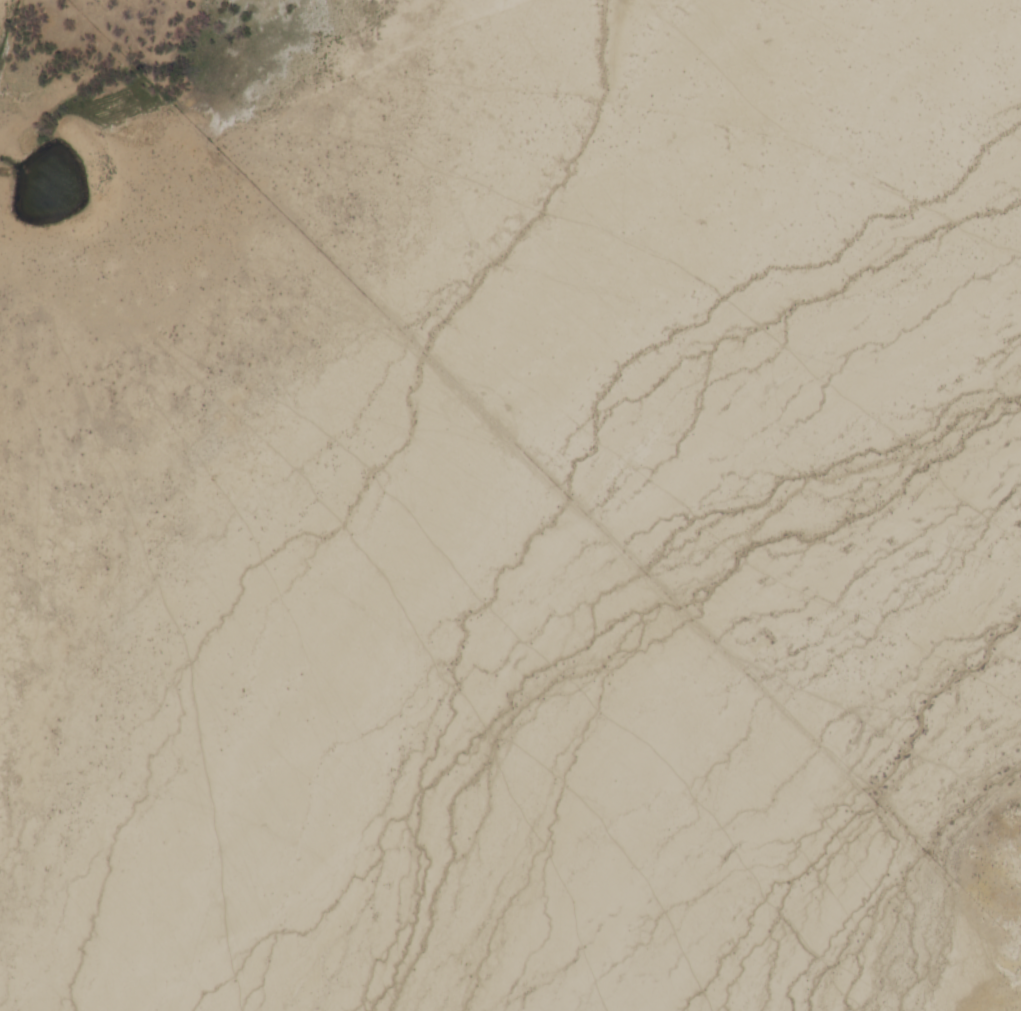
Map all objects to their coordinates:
river: (928, 762)
river: (844, 799)
river: (890, 867)

